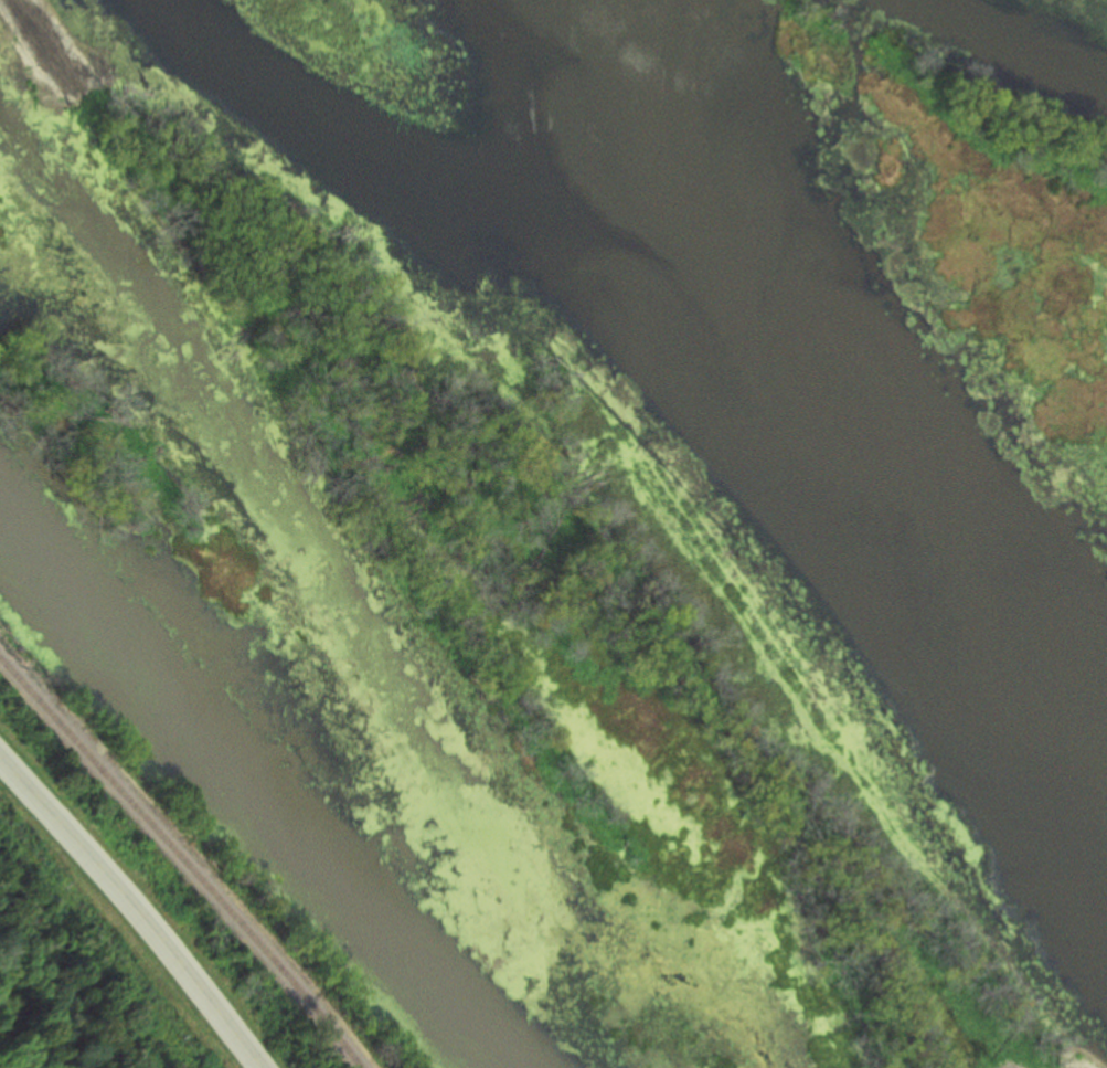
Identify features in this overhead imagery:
railway: (180, 863)
road: (130, 916)

